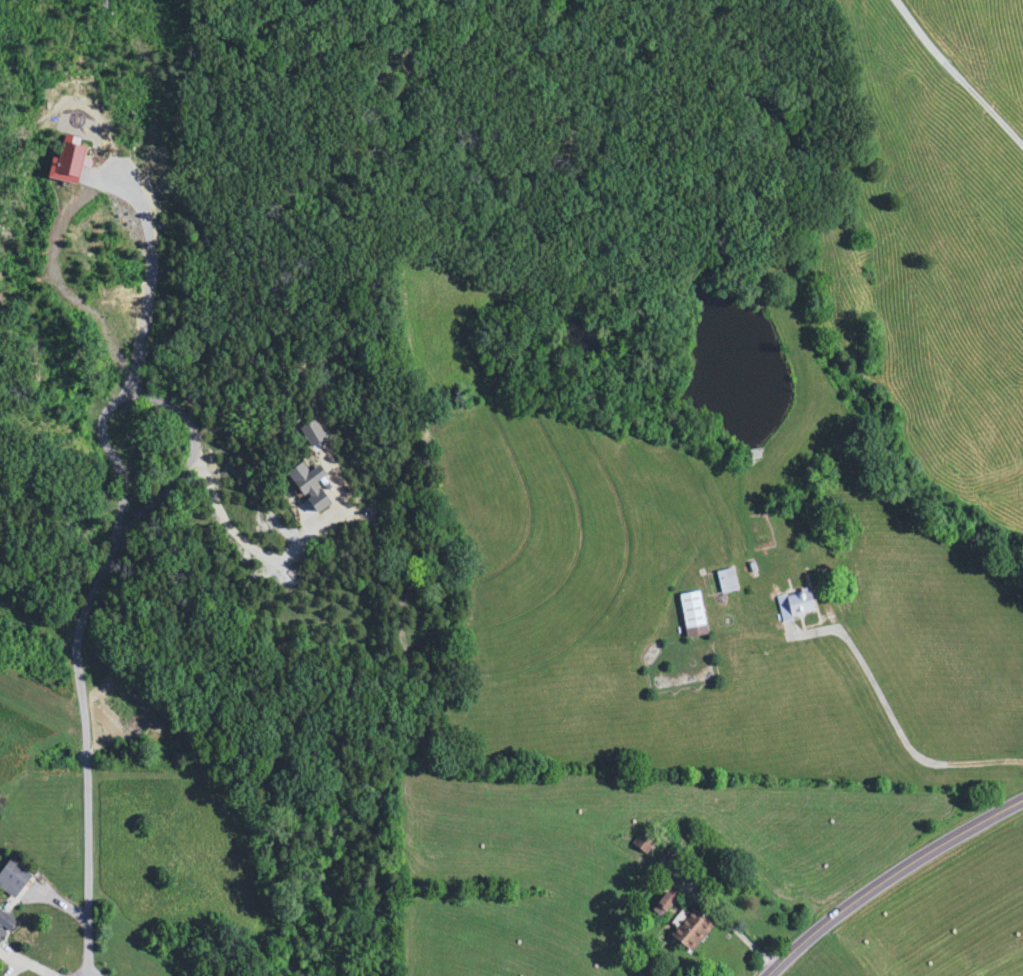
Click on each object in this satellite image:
road: (959, 72)
road: (93, 186)
road: (119, 526)
building: (726, 582)
building: (798, 604)
building: (691, 615)
road: (905, 733)
building: (643, 842)
building: (673, 867)
building: (11, 878)
road: (890, 879)
building: (663, 903)
building: (4, 924)
building: (690, 930)

